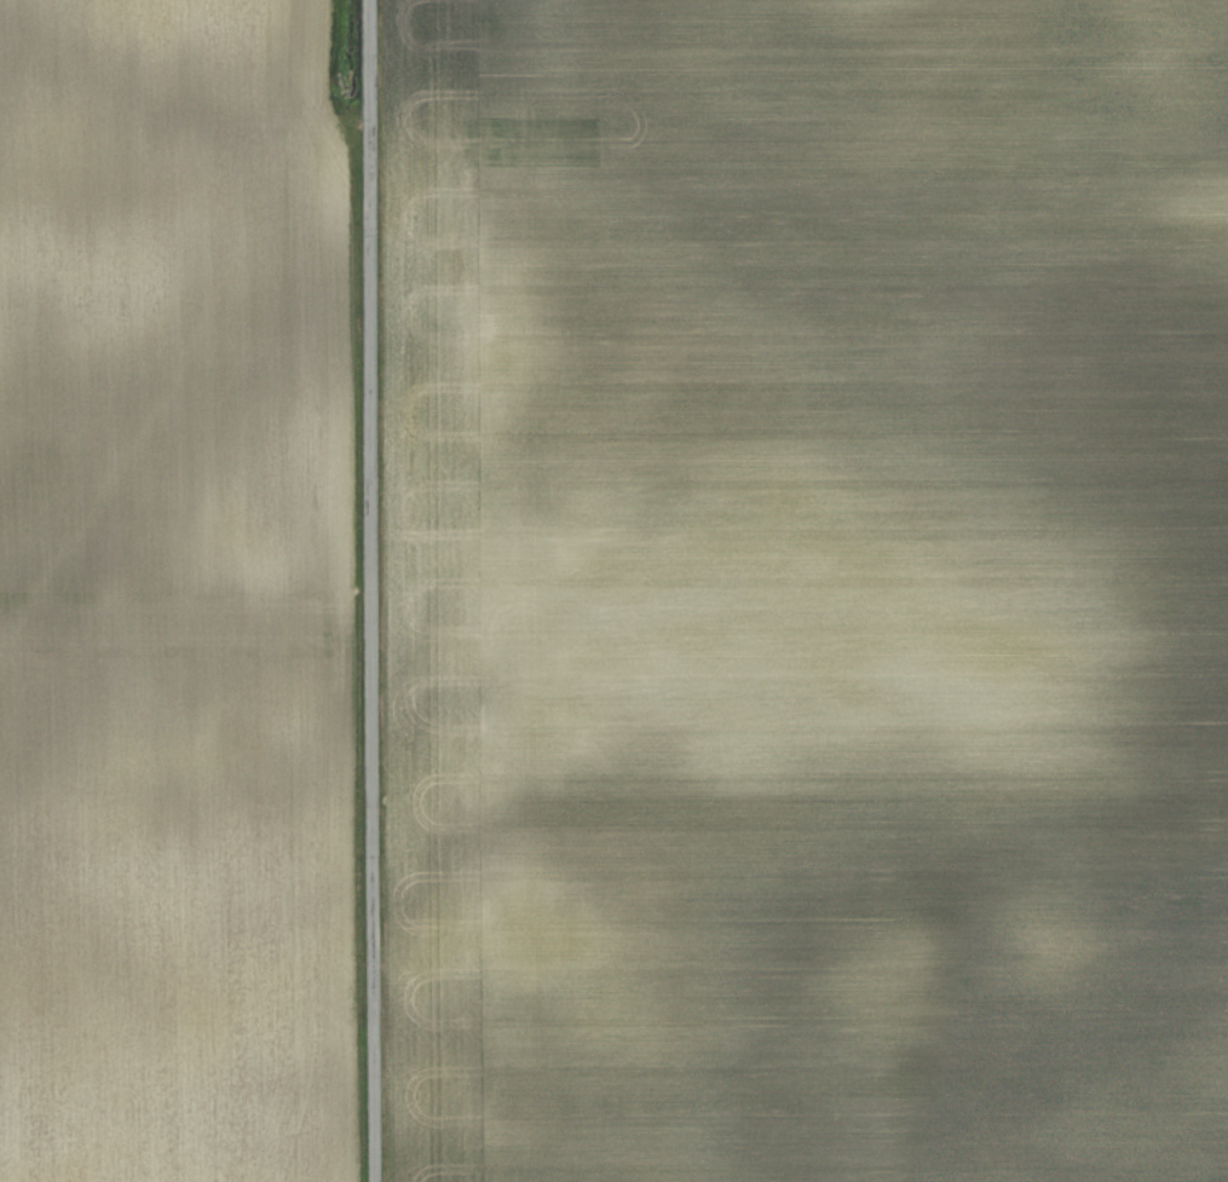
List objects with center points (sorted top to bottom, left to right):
road: (371, 590)

